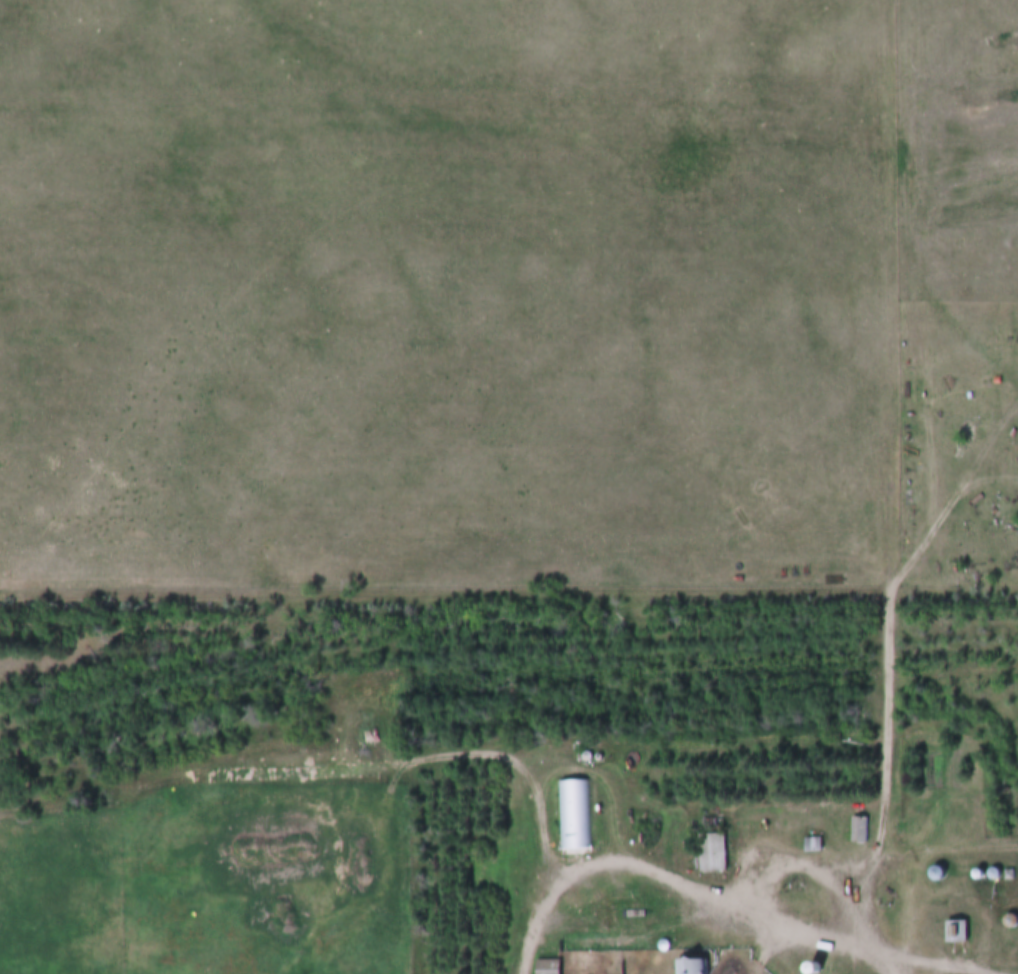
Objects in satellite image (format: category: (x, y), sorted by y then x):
road: (892, 294)
road: (888, 776)
building: (577, 817)
building: (861, 830)
building: (815, 845)
building: (713, 853)
road: (784, 929)
building: (958, 931)
road: (930, 965)
building: (694, 966)
building: (549, 967)

